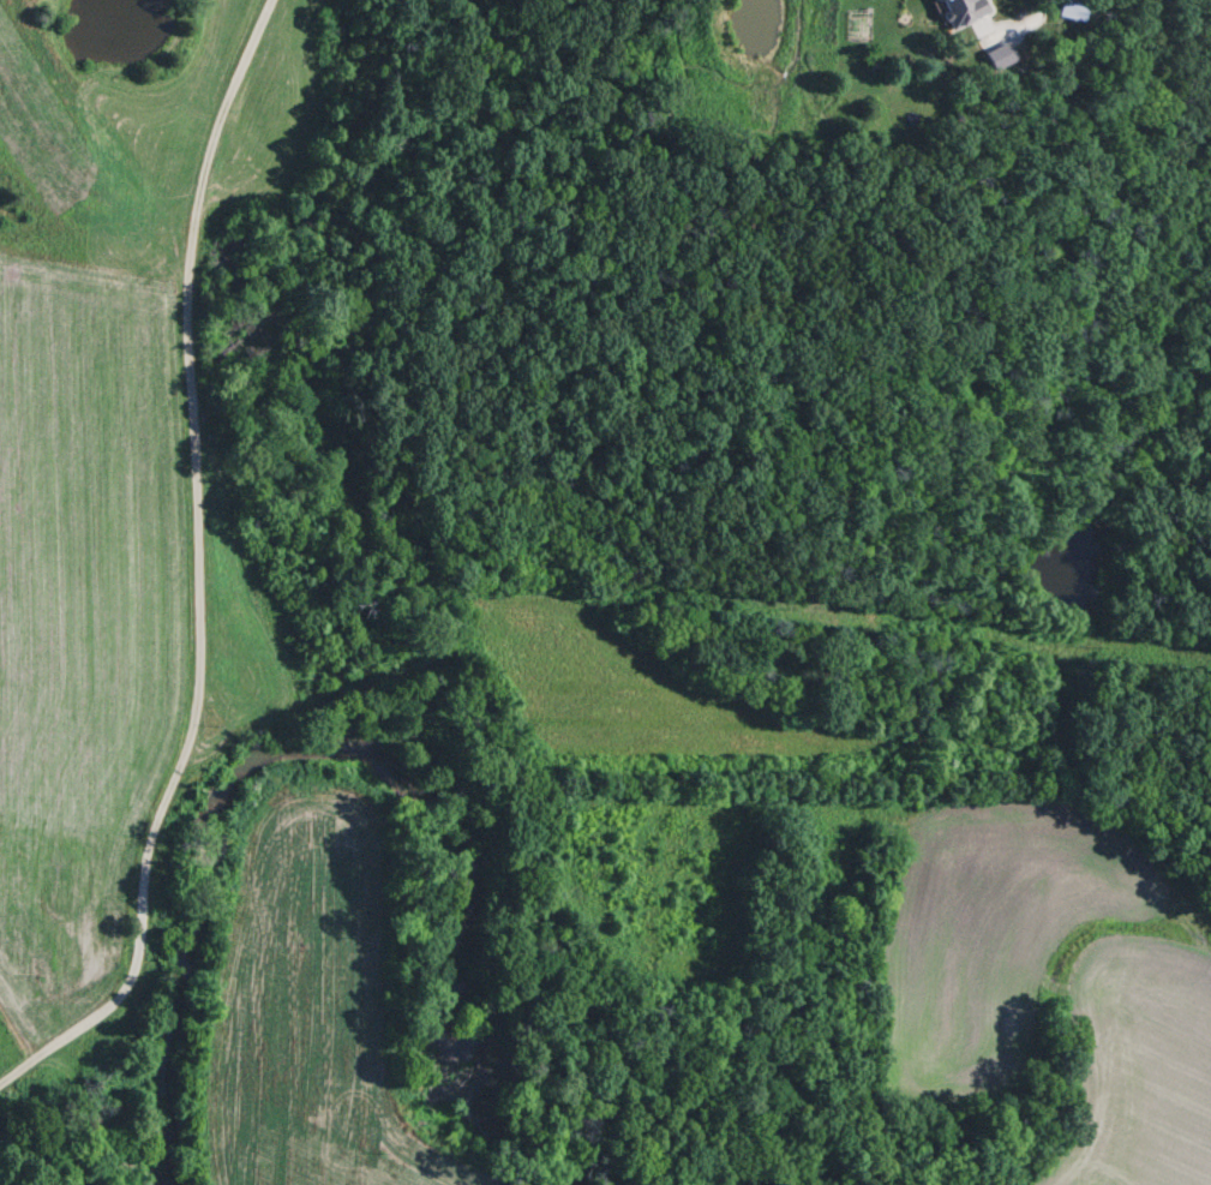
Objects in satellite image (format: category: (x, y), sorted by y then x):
building: (1075, 18)
road: (197, 571)
river: (338, 756)

